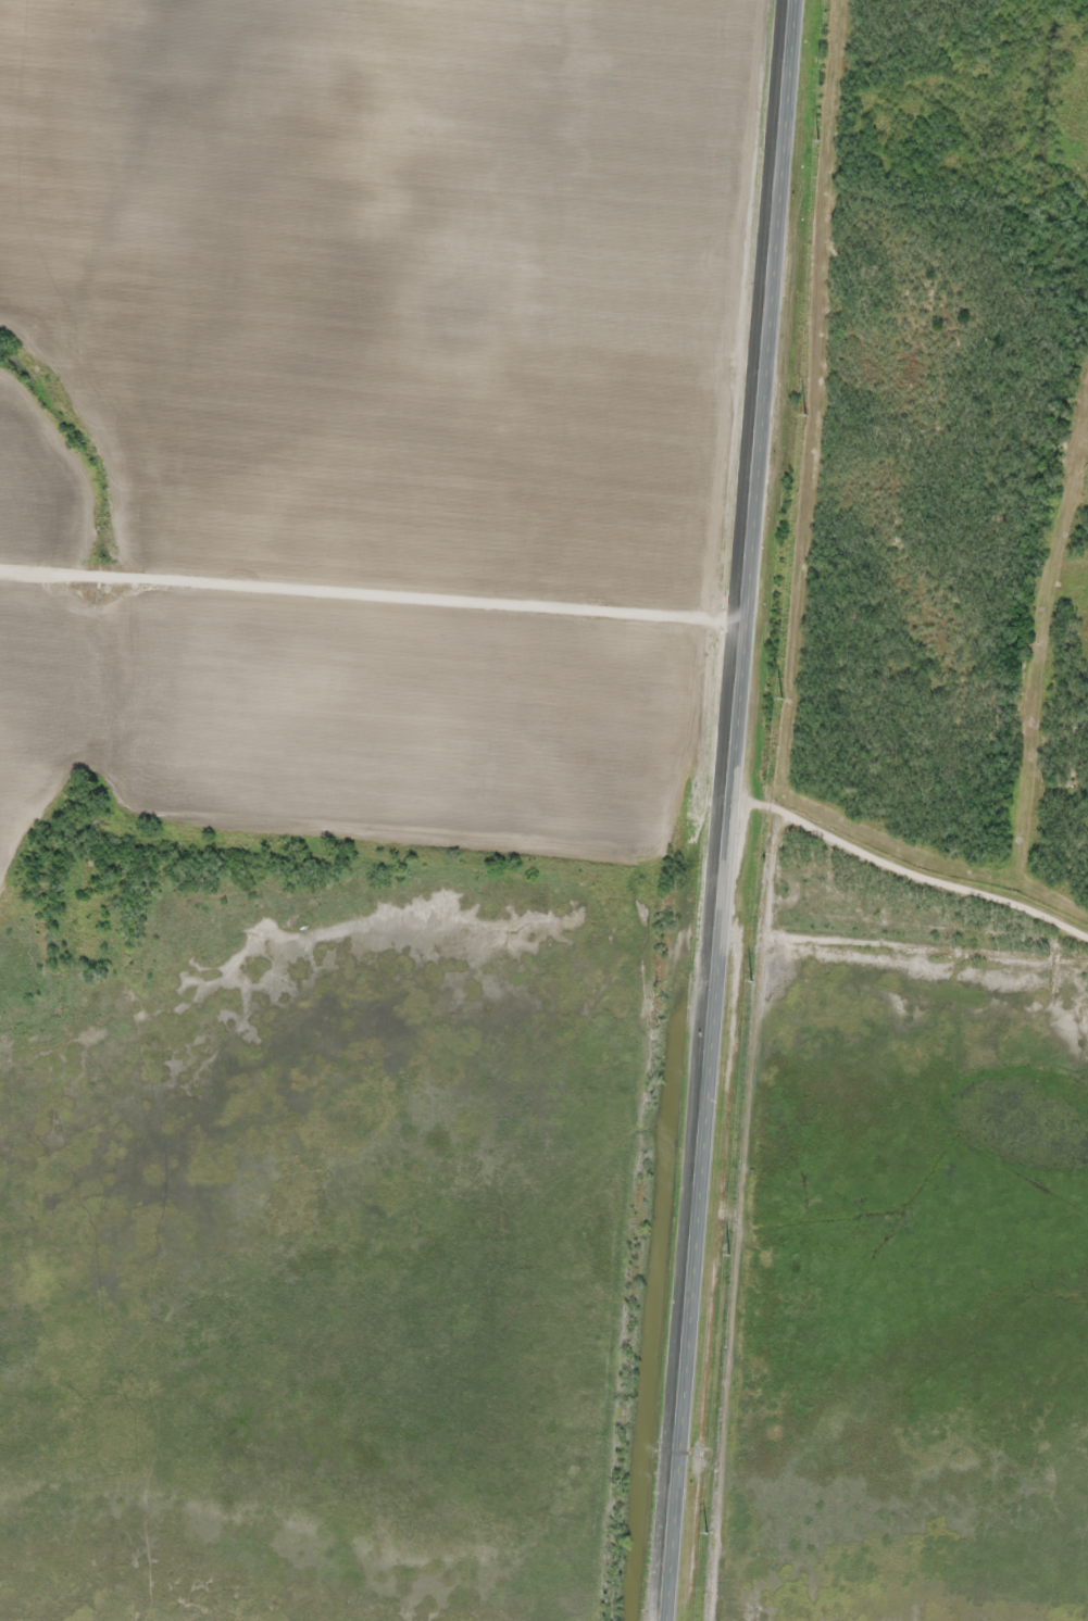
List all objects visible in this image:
road: (73, 414)
road: (373, 588)
road: (730, 809)
road: (906, 946)

